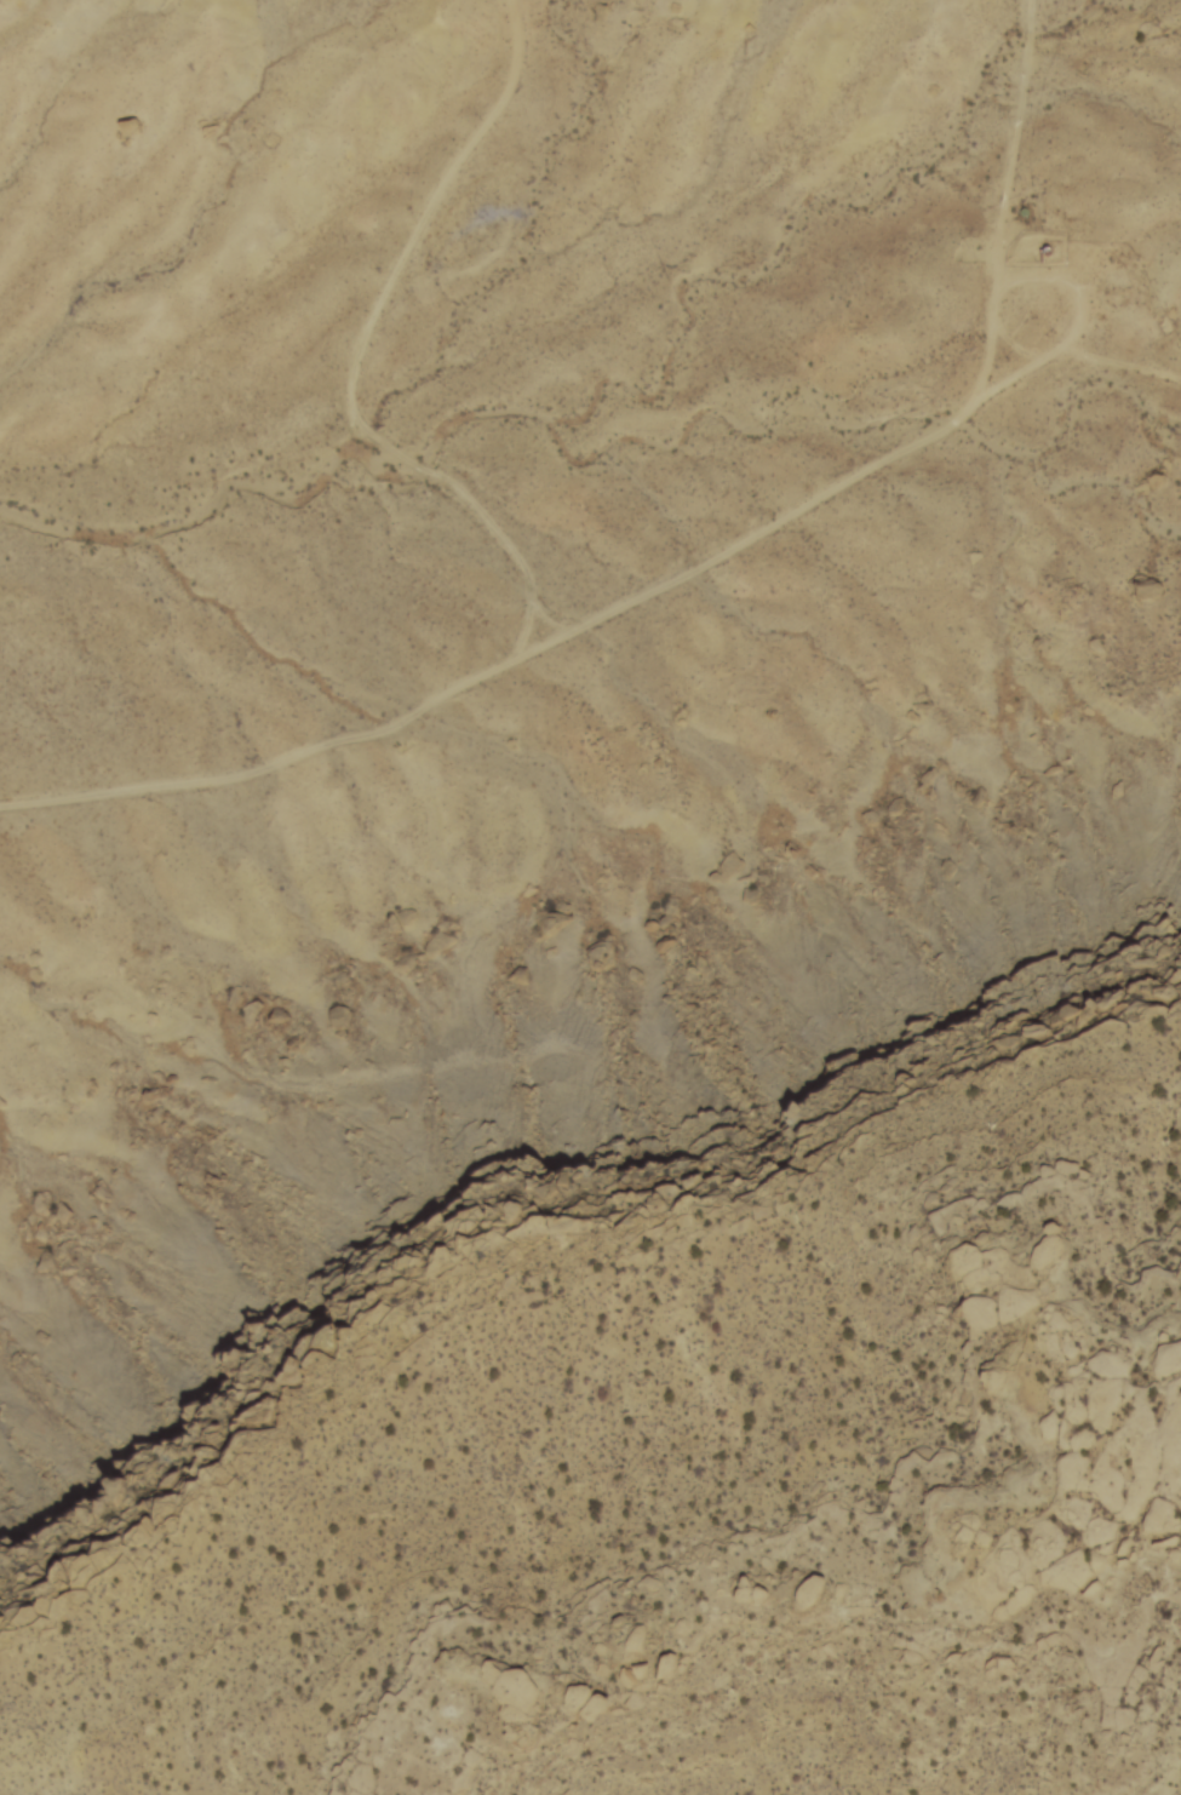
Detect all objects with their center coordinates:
road: (1048, 208)
road: (378, 365)
road: (602, 648)

